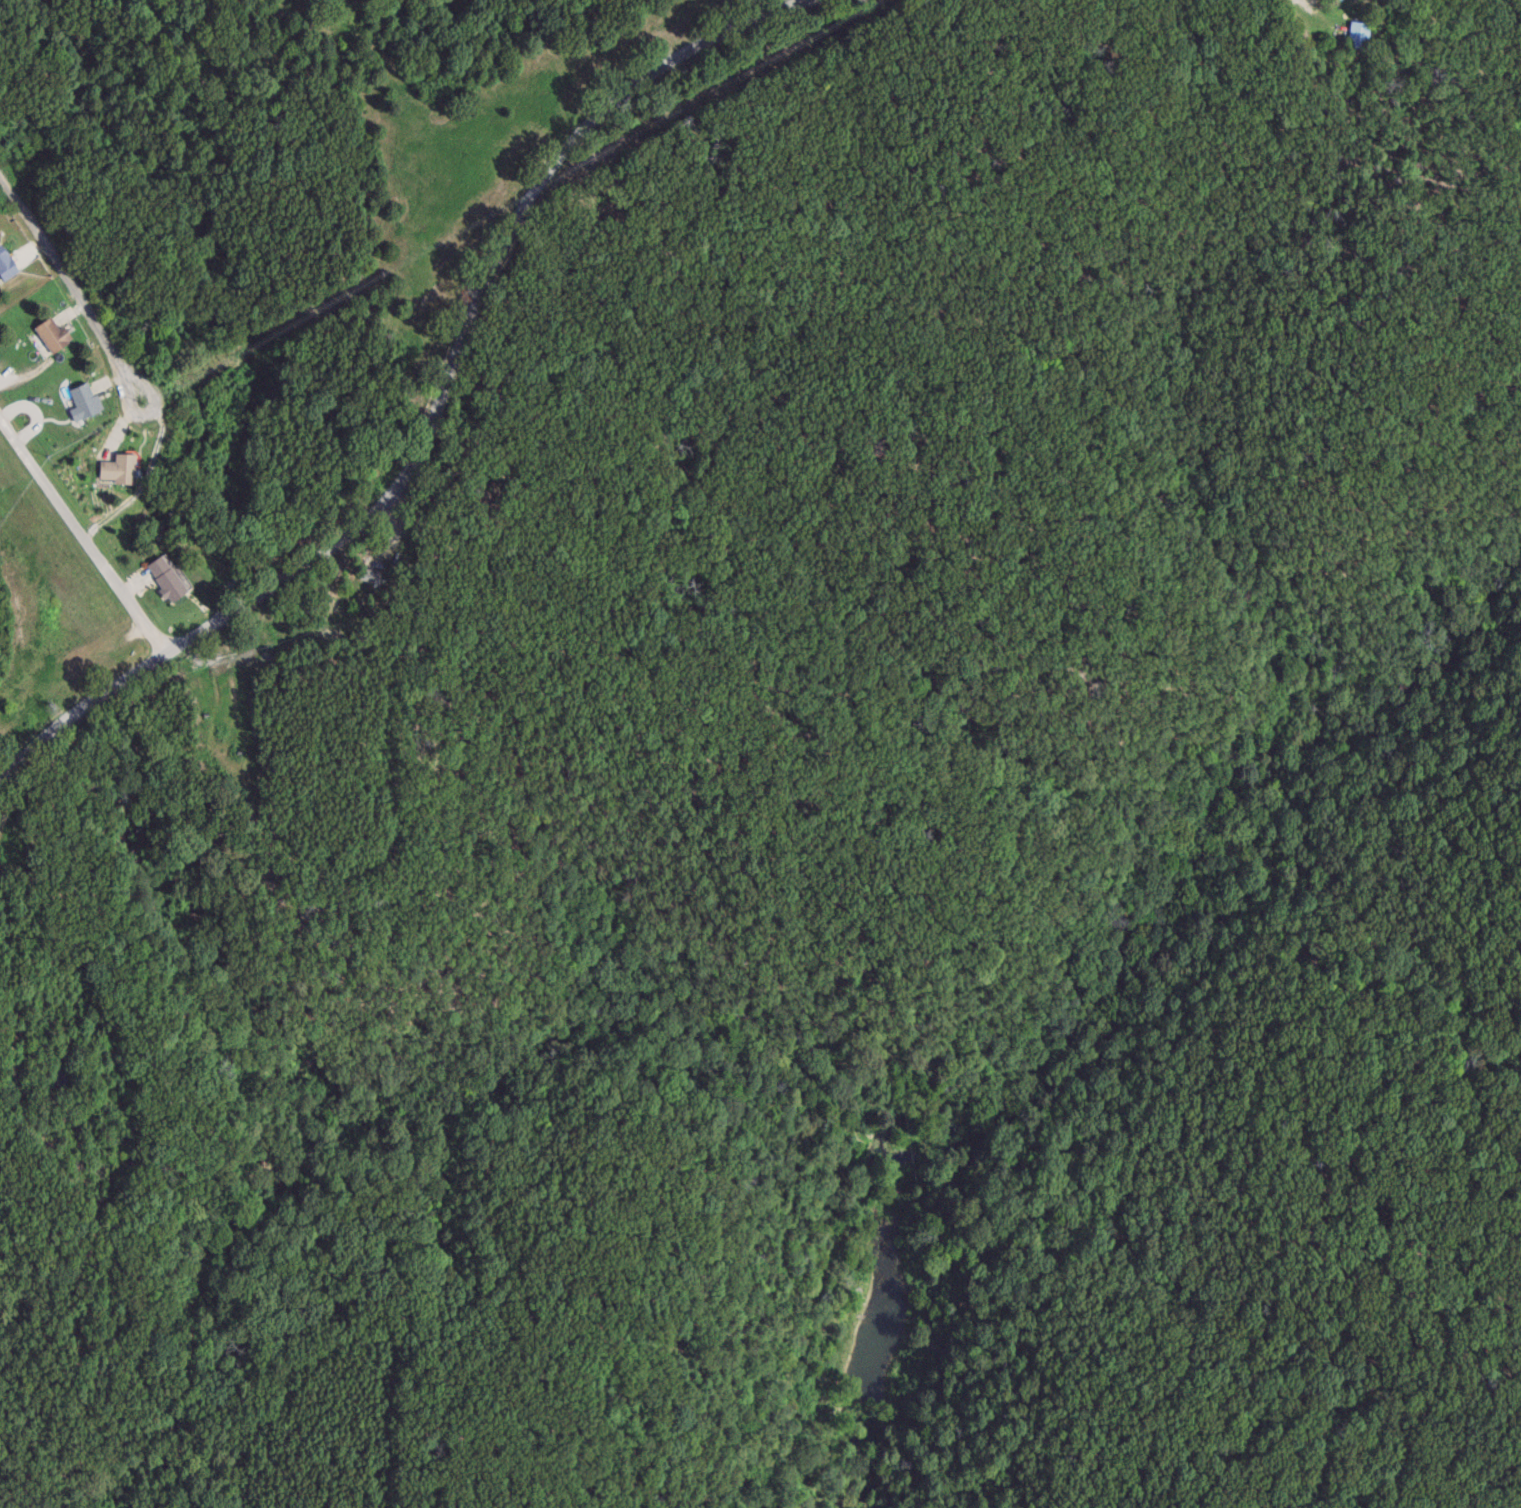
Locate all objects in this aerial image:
road: (1315, 14)
building: (9, 263)
road: (70, 285)
building: (57, 335)
building: (88, 402)
road: (442, 407)
building: (121, 468)
road: (80, 534)
building: (374, 575)
building: (170, 579)

